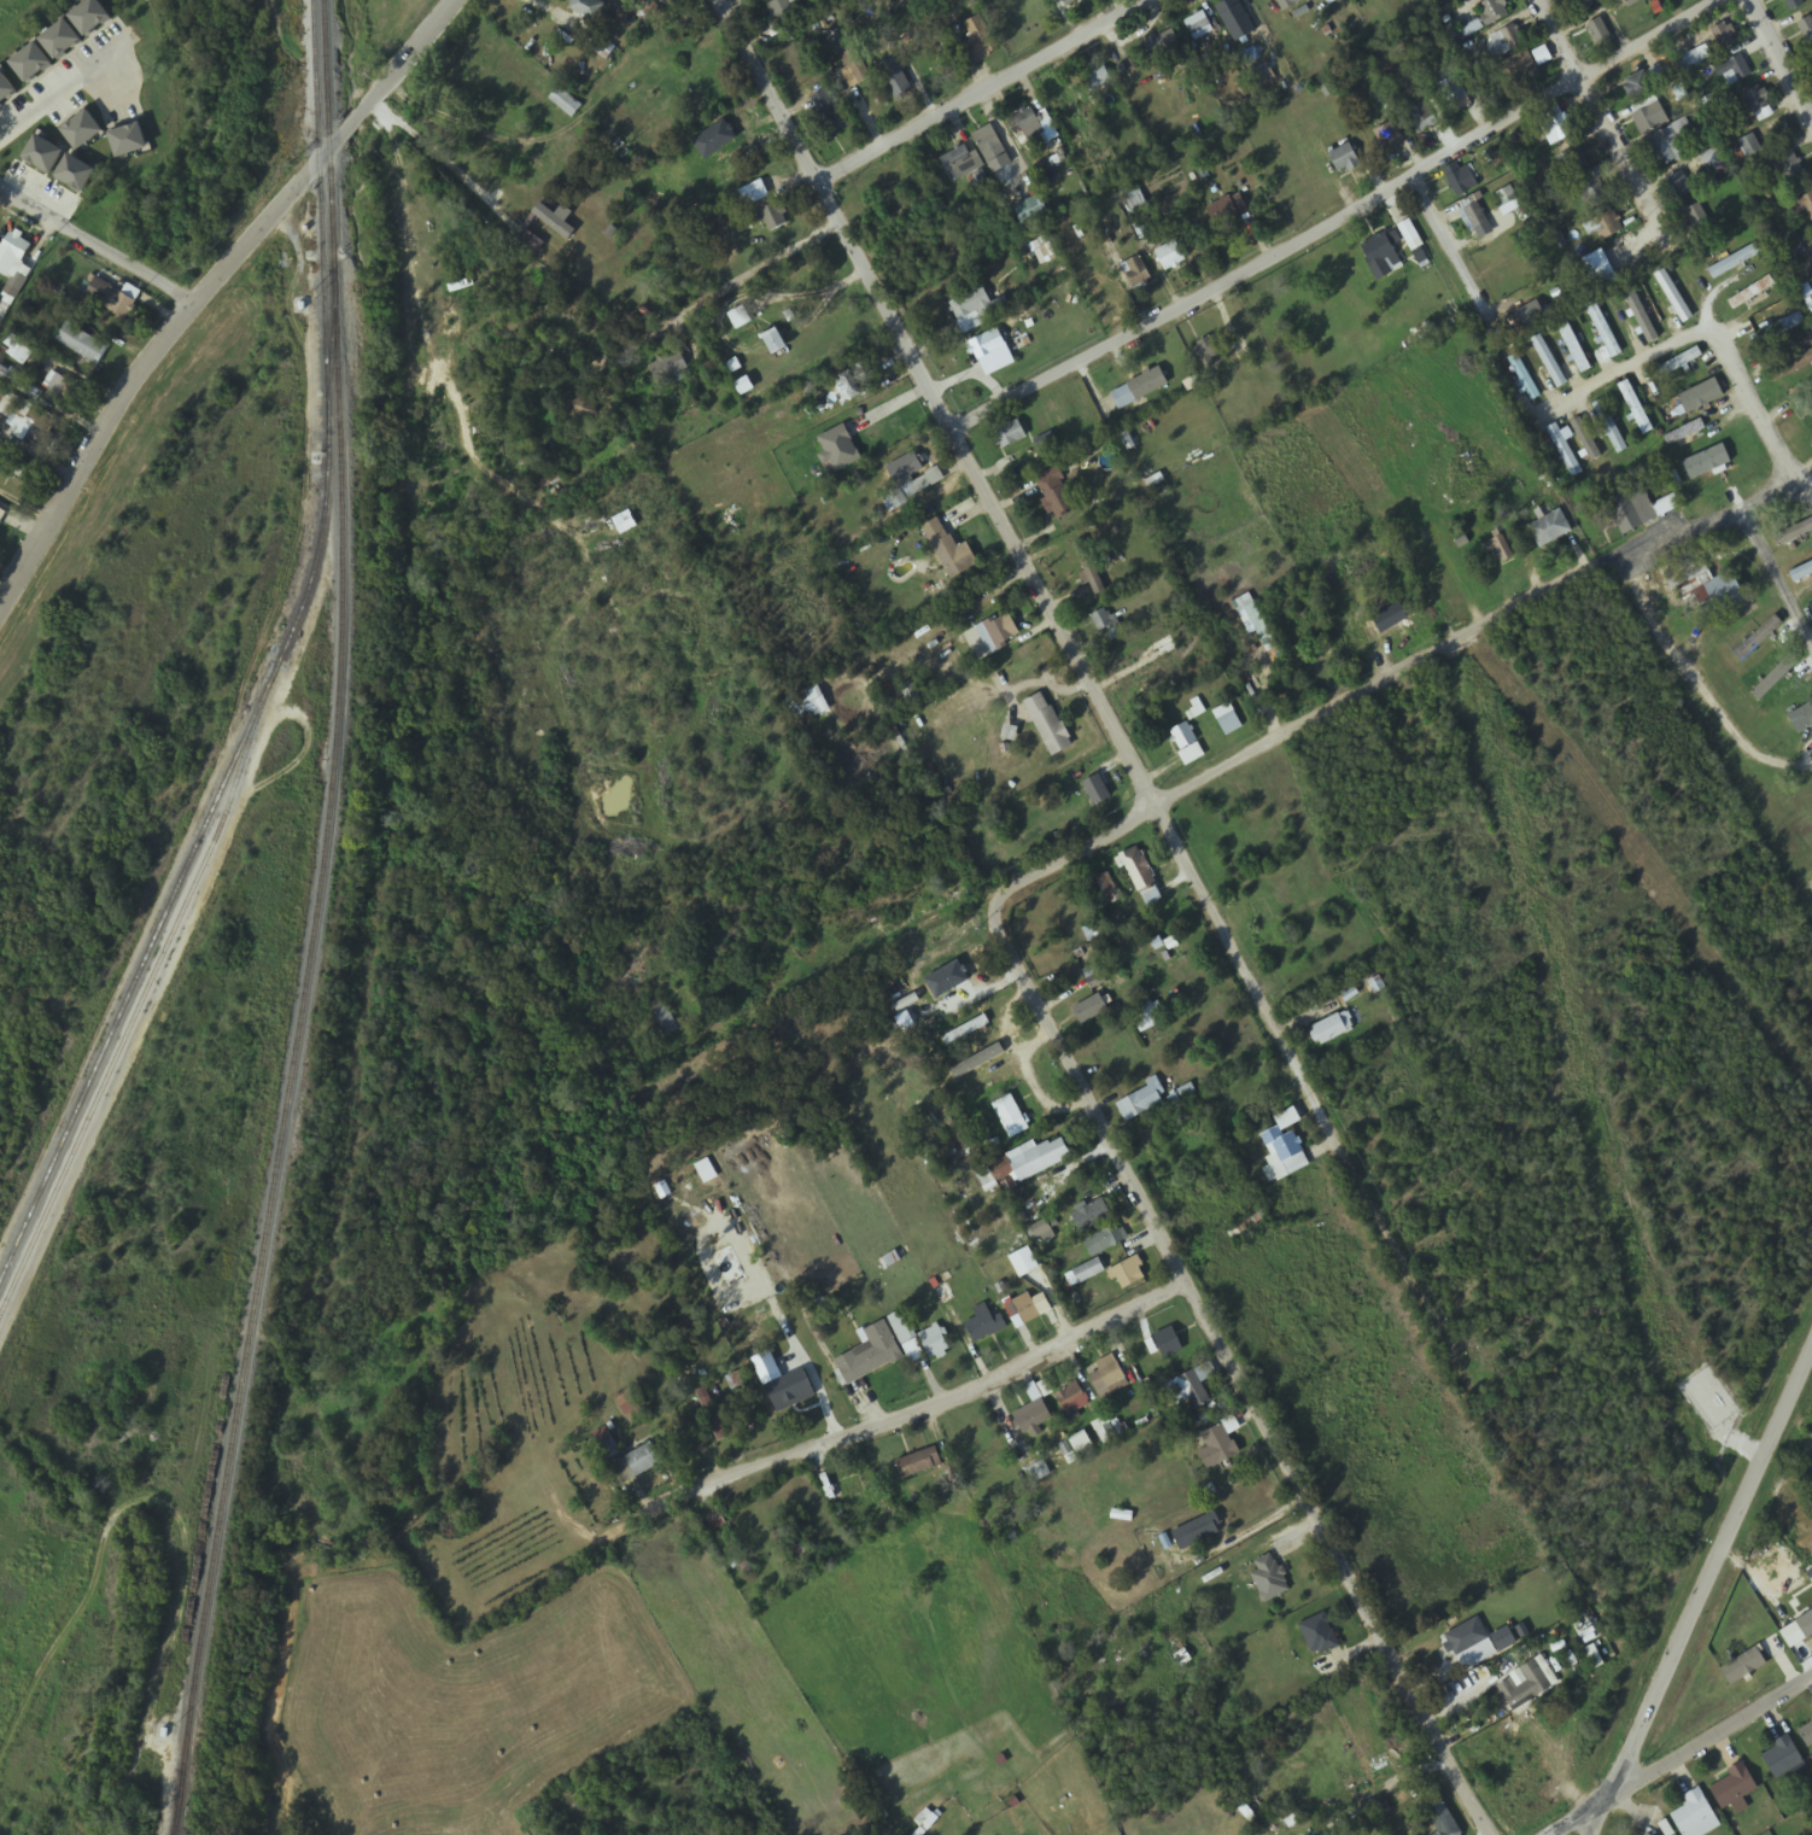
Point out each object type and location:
building: (1679, 0)
building: (1072, 2)
building: (1287, 4)
building: (1796, 4)
building: (1583, 5)
building: (589, 10)
building: (1492, 12)
building: (788, 14)
building: (1237, 21)
building: (1198, 27)
building: (1806, 30)
building: (1598, 33)
building: (1723, 36)
building: (980, 41)
building: (1507, 41)
building: (1159, 46)
building: (1811, 51)
road: (1781, 58)
building: (1694, 59)
building: (1521, 66)
building: (853, 69)
building: (1735, 72)
building: (1264, 77)
building: (1098, 80)
building: (896, 81)
building: (1637, 87)
road: (986, 93)
building: (1452, 93)
building: (1759, 100)
building: (566, 104)
road: (1591, 113)
building: (828, 116)
building: (1027, 119)
building: (1427, 119)
building: (1650, 119)
building: (1556, 130)
railway: (320, 132)
building: (1392, 141)
building: (989, 145)
building: (1668, 145)
building: (1749, 146)
building: (1345, 160)
building: (1576, 162)
building: (1714, 162)
building: (959, 164)
building: (1789, 169)
building: (1462, 181)
building: (1682, 185)
building: (1595, 193)
building: (754, 194)
building: (1507, 197)
building: (1804, 206)
road: (1350, 210)
building: (1229, 211)
building: (1477, 217)
building: (1699, 217)
building: (773, 218)
building: (1608, 227)
building: (1409, 233)
road: (98, 246)
road: (1448, 246)
building: (12, 251)
building: (1170, 257)
building: (1381, 257)
building: (1735, 262)
road: (207, 287)
building: (1752, 293)
building: (115, 299)
building: (1676, 302)
building: (971, 306)
building: (1639, 314)
building: (741, 320)
building: (1777, 331)
road: (1706, 335)
building: (777, 344)
building: (83, 345)
building: (987, 346)
building: (1574, 347)
railway: (332, 349)
building: (1210, 351)
building: (1549, 362)
building: (1678, 364)
building: (1793, 367)
building: (670, 372)
building: (1524, 379)
building: (19, 385)
building: (855, 385)
building: (1140, 390)
building: (68, 396)
building: (1693, 397)
road: (941, 402)
building: (1804, 408)
building: (1636, 409)
building: (584, 410)
building: (885, 428)
building: (1611, 428)
building: (1684, 433)
building: (1010, 436)
building: (13, 469)
building: (914, 489)
building: (1056, 492)
building: (1639, 509)
building: (1, 516)
building: (1550, 530)
building: (1793, 533)
building: (1498, 549)
building: (951, 551)
building: (1687, 572)
building: (1801, 573)
road: (1775, 578)
building: (1722, 596)
building: (1808, 614)
building: (1391, 618)
building: (1107, 626)
road: (1469, 630)
building: (999, 633)
building: (1758, 639)
building: (1779, 673)
building: (1801, 718)
building: (1229, 724)
building: (1048, 725)
building: (1187, 744)
railway: (222, 787)
building: (1098, 791)
building: (1135, 865)
railway: (315, 910)
building: (1091, 1006)
building: (1150, 1018)
railway: (134, 1019)
building: (662, 1021)
building: (1329, 1025)
building: (965, 1028)
road: (1307, 1081)
building: (1140, 1098)
building: (1010, 1114)
building: (1281, 1152)
building: (1037, 1157)
building: (1089, 1212)
building: (1042, 1226)
building: (1103, 1238)
building: (1023, 1261)
building: (1083, 1269)
building: (1126, 1269)
road: (1187, 1290)
building: (1021, 1309)
building: (983, 1321)
building: (902, 1328)
building: (934, 1340)
building: (1167, 1340)
building: (870, 1352)
building: (1105, 1374)
building: (1193, 1390)
building: (1070, 1396)
building: (711, 1408)
road: (943, 1408)
building: (1031, 1415)
building: (1217, 1447)
building: (610, 1450)
building: (637, 1461)
building: (918, 1461)
building: (851, 1488)
building: (1202, 1529)
building: (735, 1554)
building: (1270, 1579)
road: (1700, 1590)
building: (1805, 1623)
building: (1320, 1635)
building: (1465, 1635)
building: (1503, 1637)
building: (1742, 1665)
building: (1527, 1687)
road: (1754, 1712)
building: (1806, 1731)
building: (1784, 1758)
building: (1734, 1786)
road: (1621, 1792)
building: (1694, 1814)
building: (1444, 1822)
railway: (174, 1823)
railway: (175, 1823)
building: (1644, 1834)

